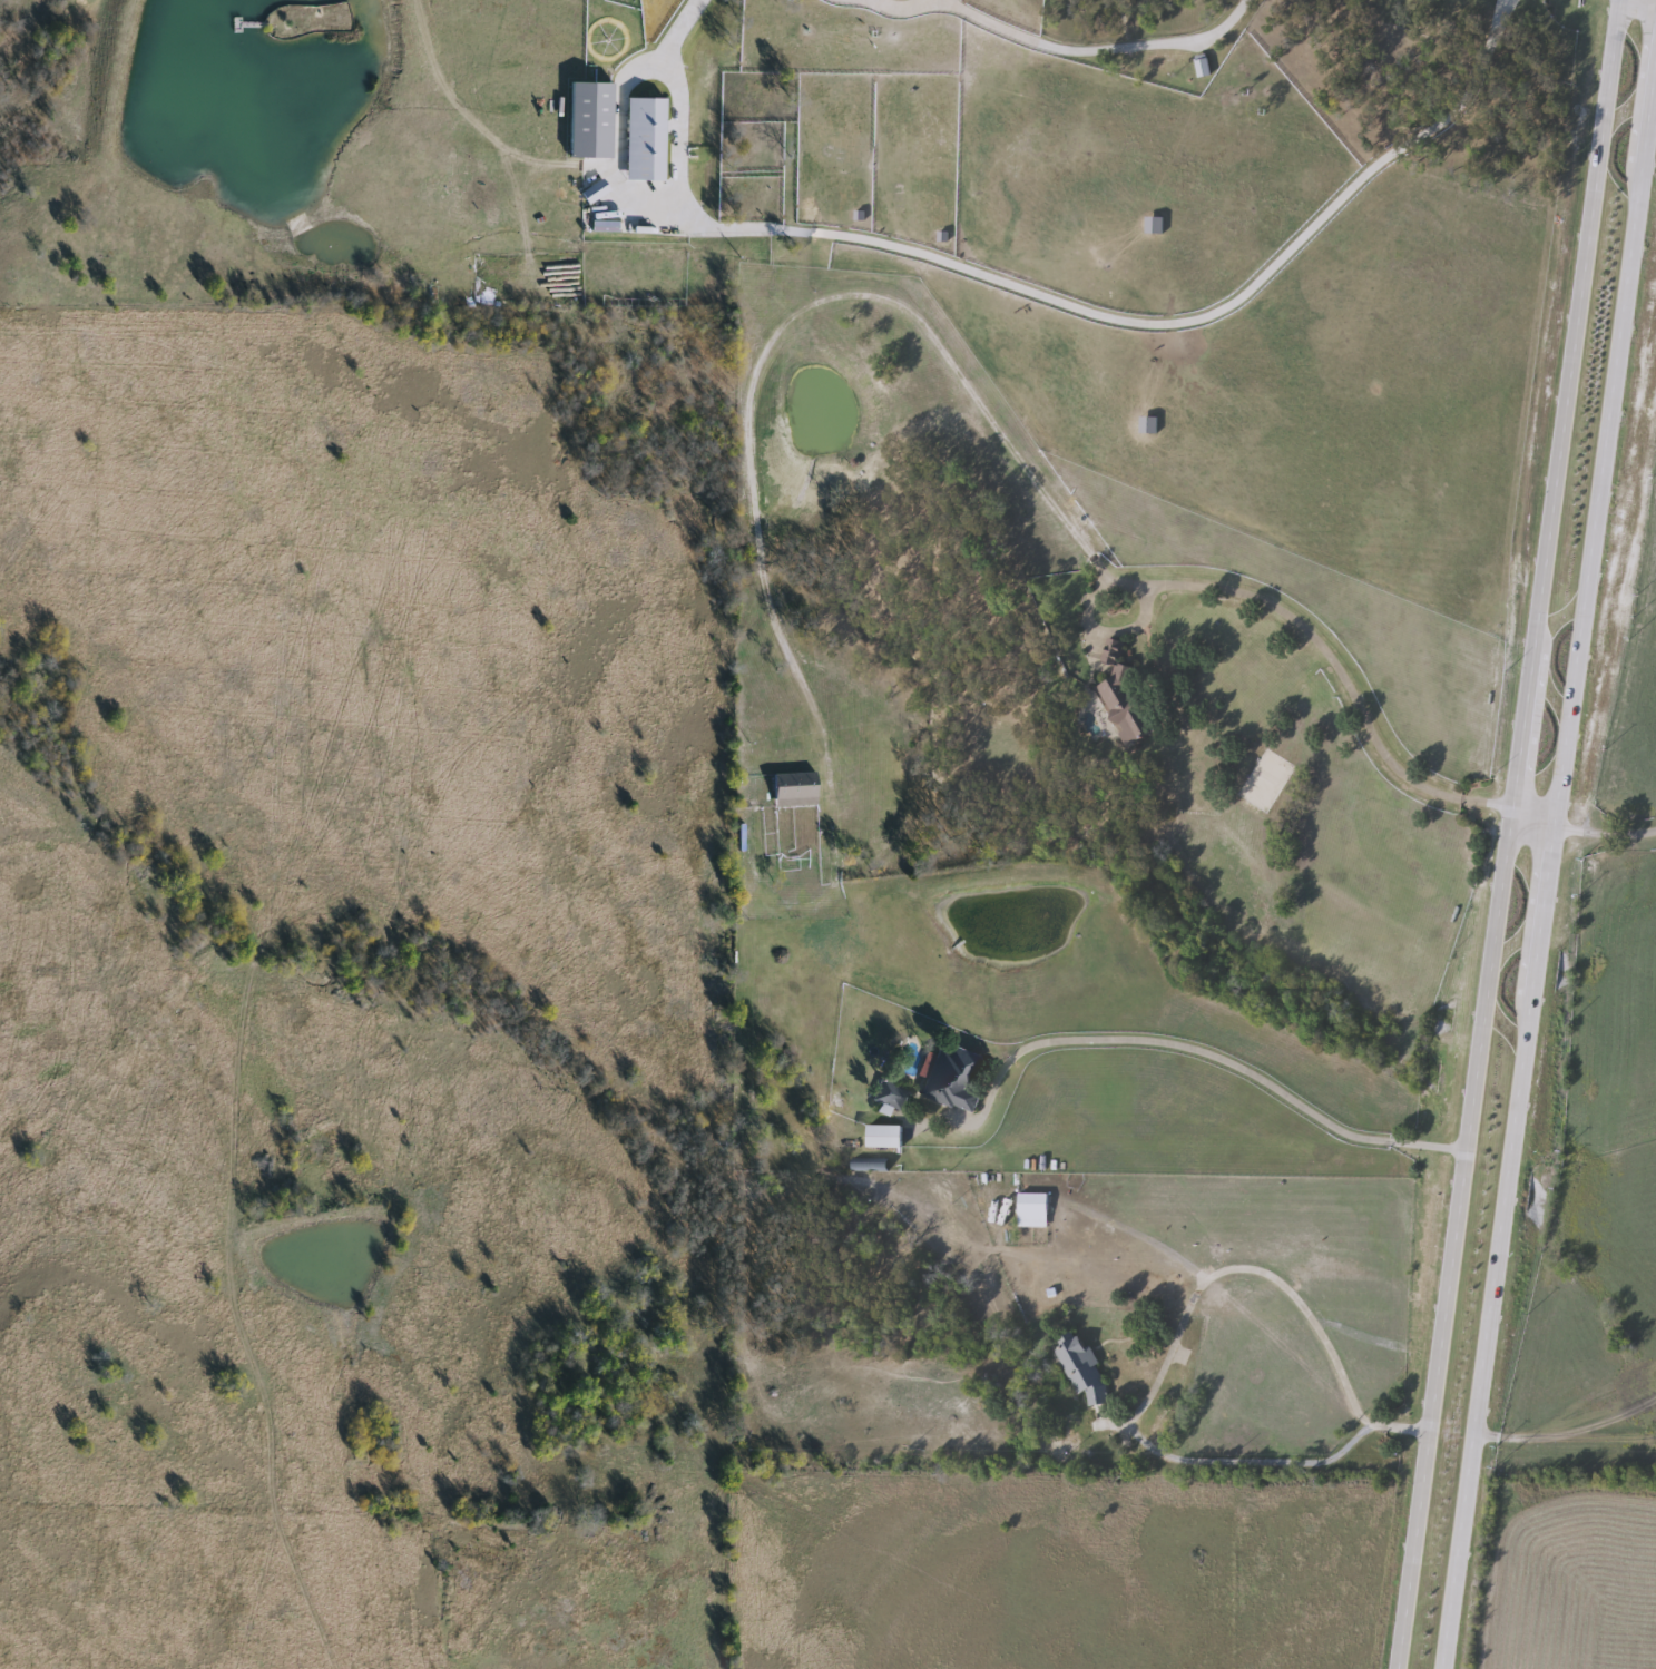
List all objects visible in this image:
road: (1654, 0)
road: (901, 11)
road: (1092, 50)
building: (1201, 67)
road: (672, 110)
road: (616, 138)
building: (644, 139)
building: (594, 192)
road: (1165, 323)
road: (986, 415)
building: (1121, 698)
building: (794, 788)
road: (1527, 826)
road: (1503, 834)
road: (1601, 834)
road: (1545, 847)
road: (1197, 1052)
building: (951, 1078)
building: (890, 1094)
building: (882, 1137)
building: (1031, 1208)
road: (1172, 1335)
building: (1080, 1367)

